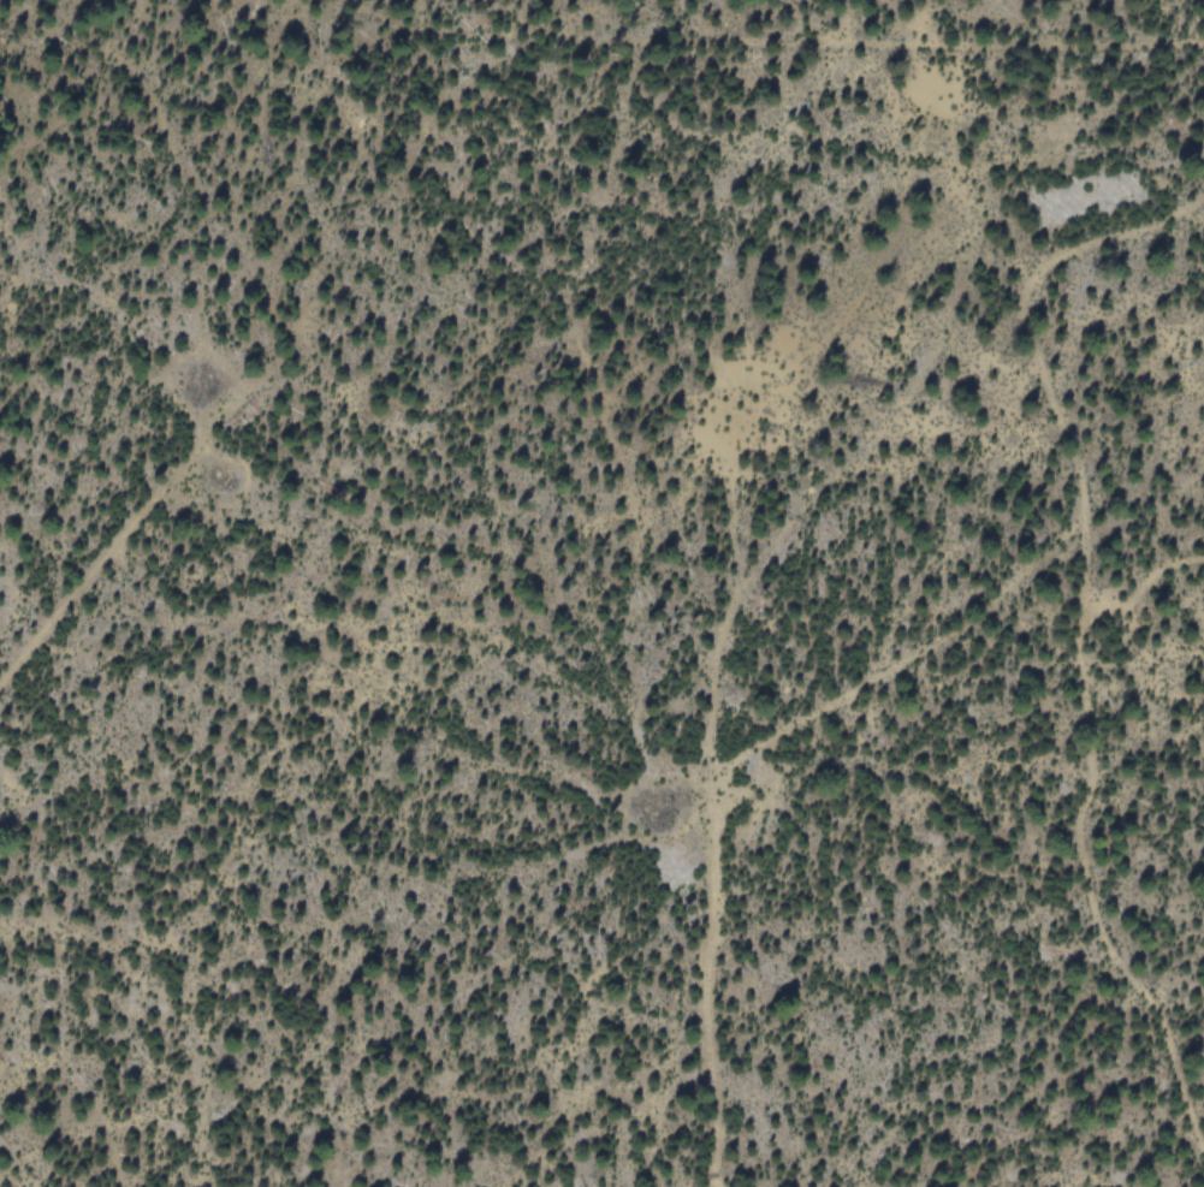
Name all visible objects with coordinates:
road: (83, 592)
road: (1081, 619)
road: (730, 767)

